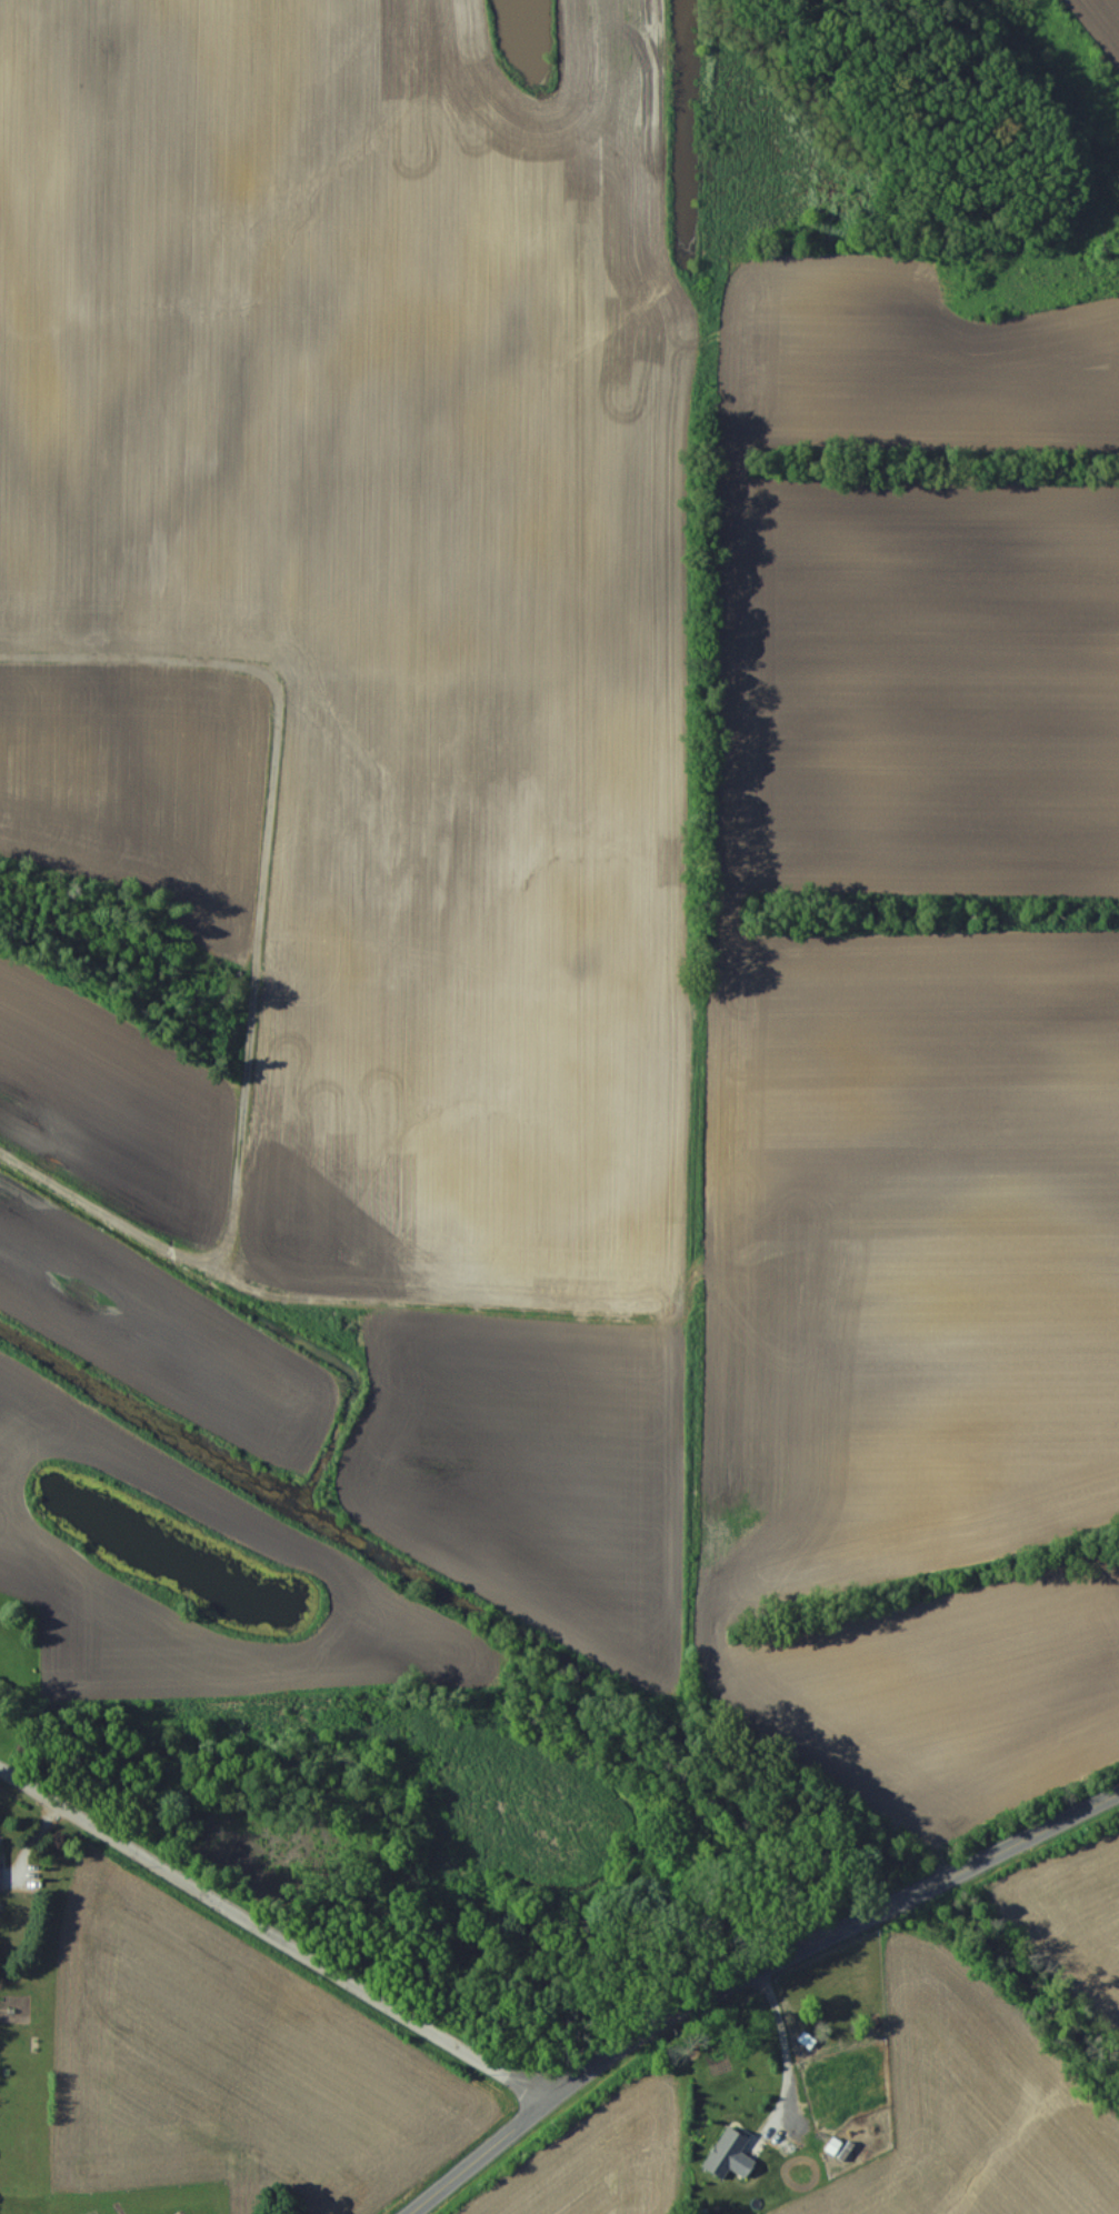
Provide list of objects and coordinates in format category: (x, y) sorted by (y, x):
road: (827, 1934)
road: (274, 1937)
road: (793, 2054)
road: (478, 2156)

